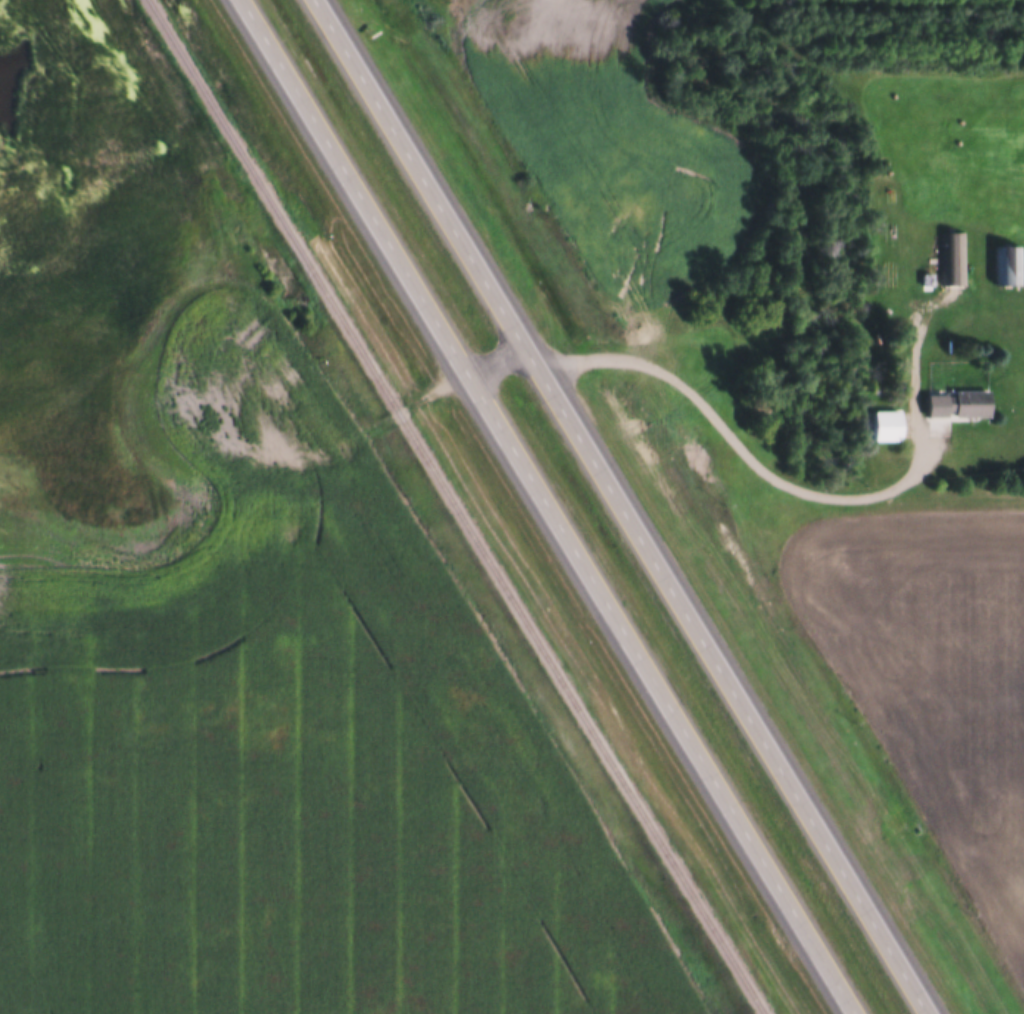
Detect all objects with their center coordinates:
building: (952, 258)
building: (1006, 265)
road: (501, 367)
road: (421, 400)
building: (957, 405)
road: (744, 453)
road: (622, 506)
railway: (454, 507)
road: (548, 507)

